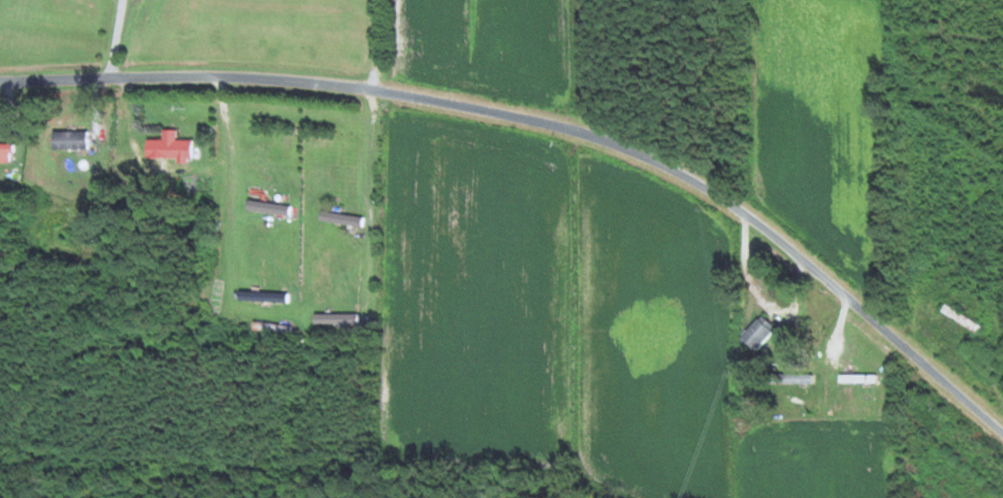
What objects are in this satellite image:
road: (111, 39)
road: (550, 122)
building: (79, 127)
building: (4, 148)
building: (164, 148)
building: (265, 207)
building: (341, 218)
building: (262, 295)
building: (335, 318)
building: (269, 328)
building: (755, 331)
building: (981, 358)
building: (791, 378)
building: (855, 378)
building: (955, 441)

